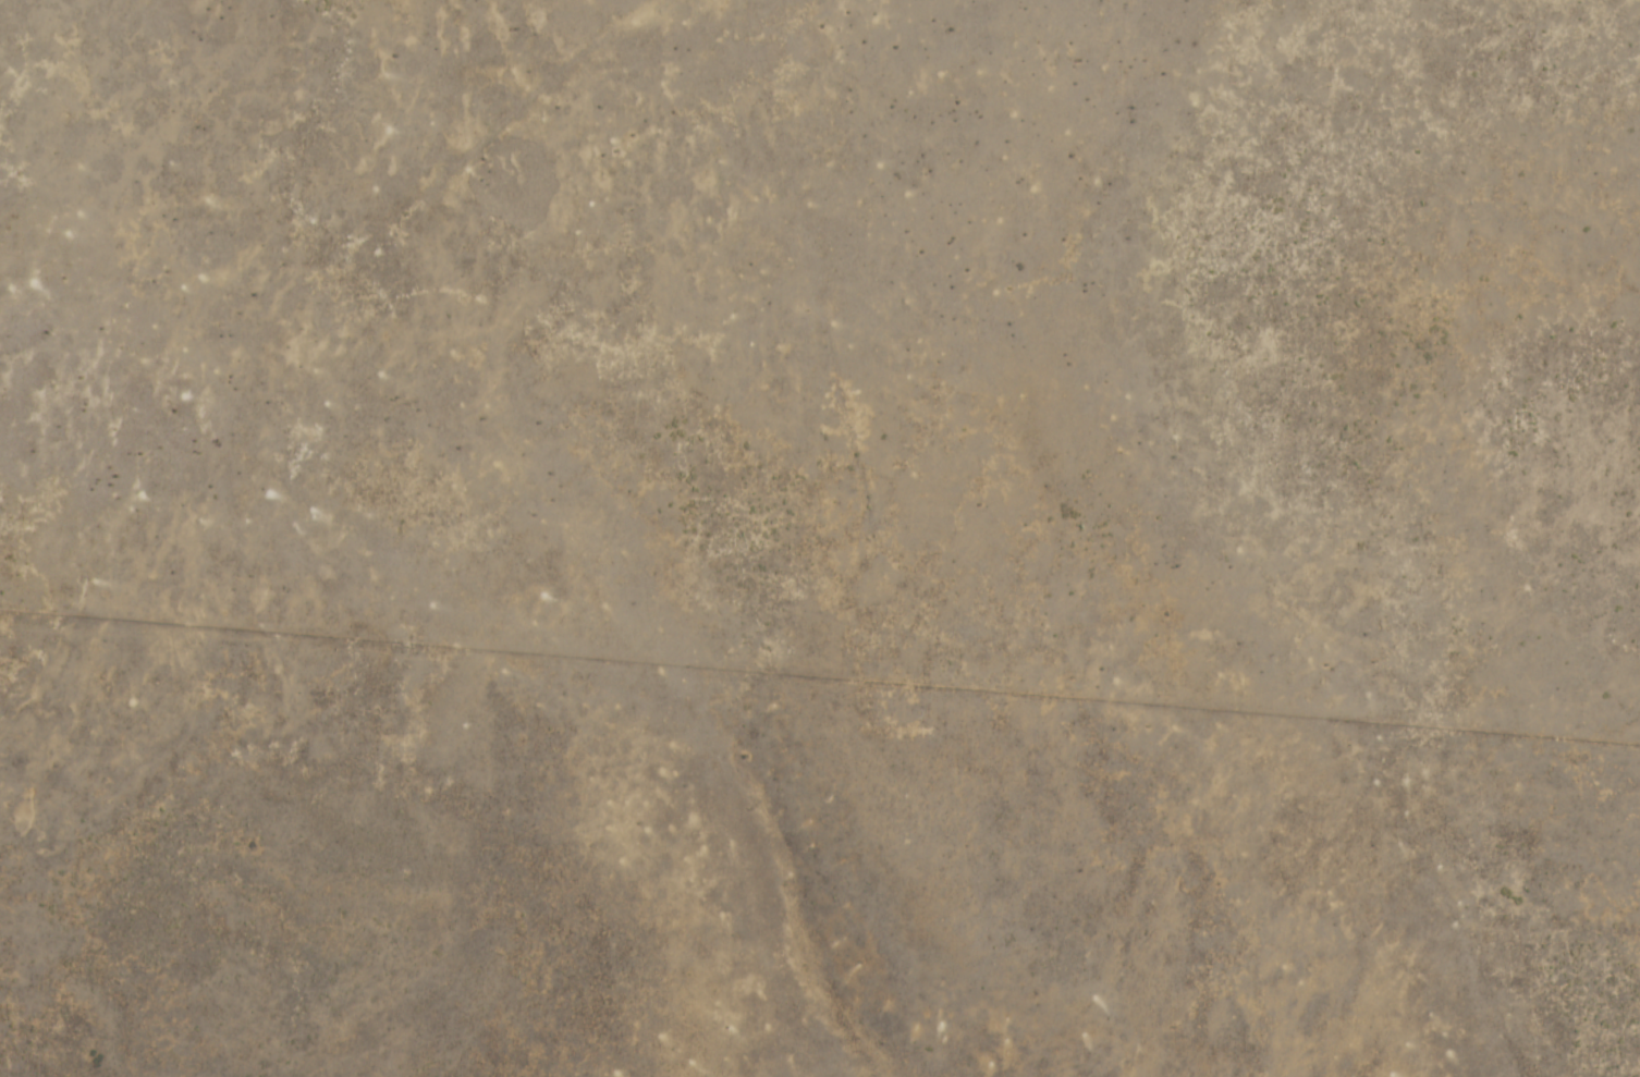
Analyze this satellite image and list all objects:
road: (829, 216)

